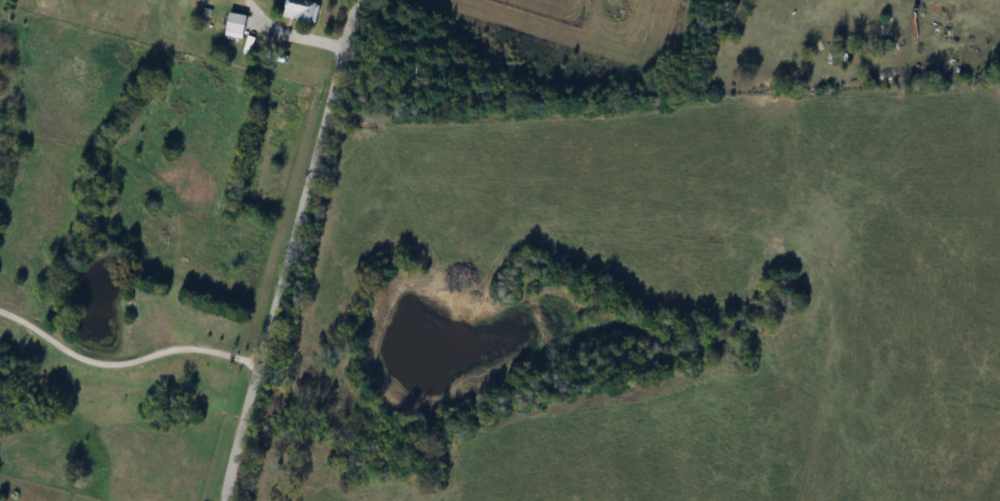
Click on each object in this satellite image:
building: (302, 10)
building: (236, 25)
road: (288, 250)
road: (123, 361)

